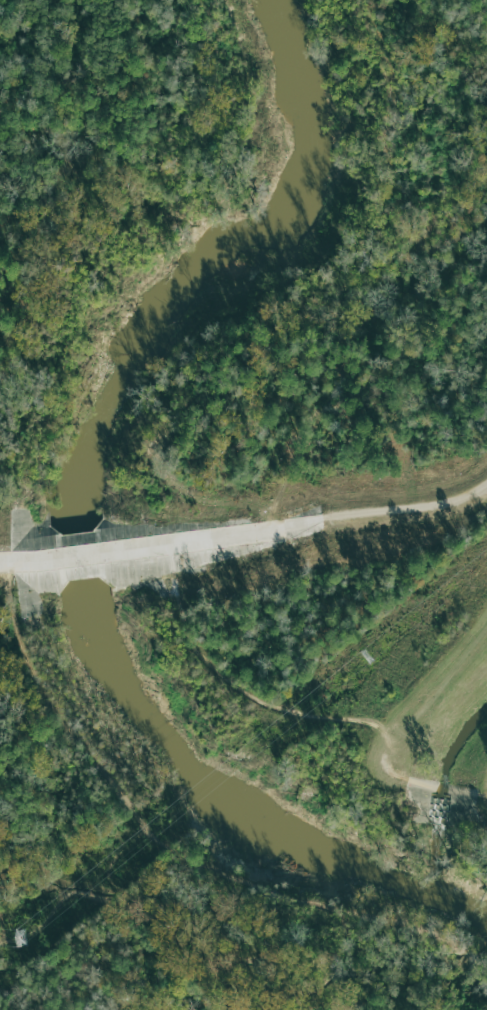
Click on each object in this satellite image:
road: (409, 508)
river: (89, 513)
road: (165, 547)
power tower: (367, 657)
road: (119, 788)
river: (439, 790)
road: (422, 933)
power tower: (21, 939)

